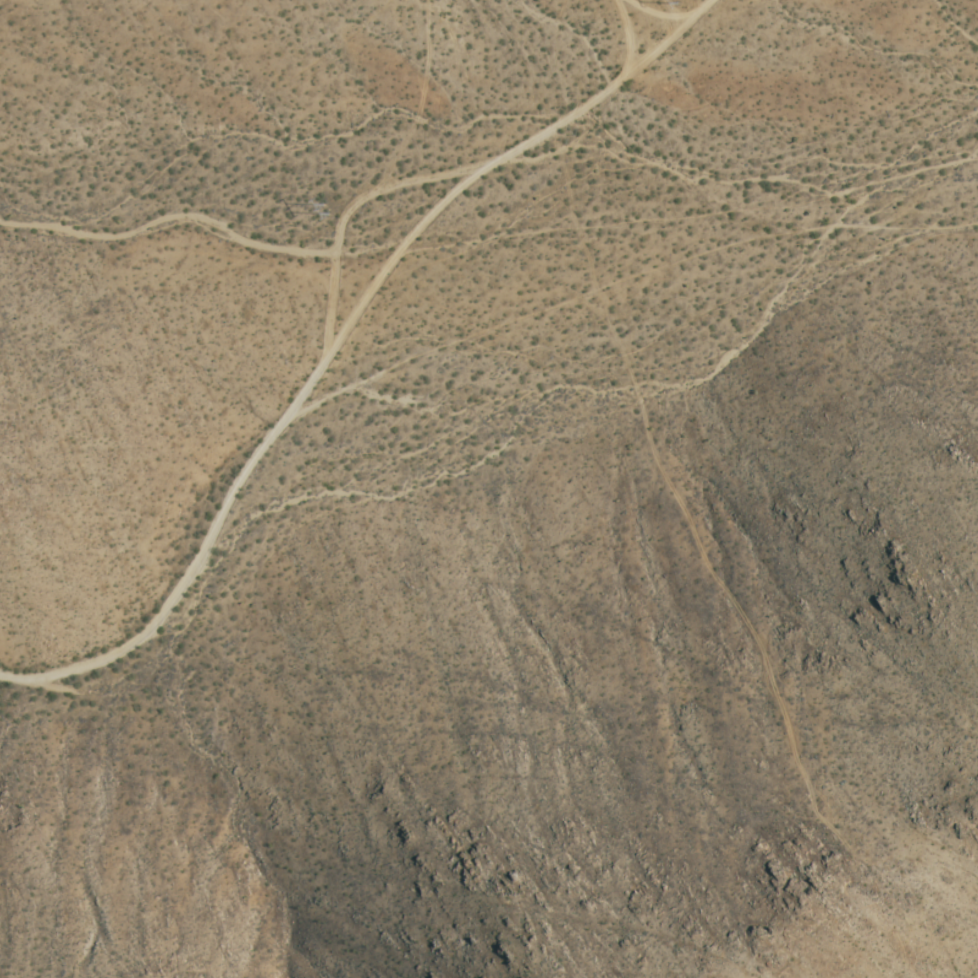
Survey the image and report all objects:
road: (711, 7)
road: (667, 14)
road: (635, 38)
road: (668, 46)
road: (565, 128)
power tower: (324, 208)
road: (357, 212)
road: (406, 254)
road: (203, 567)

